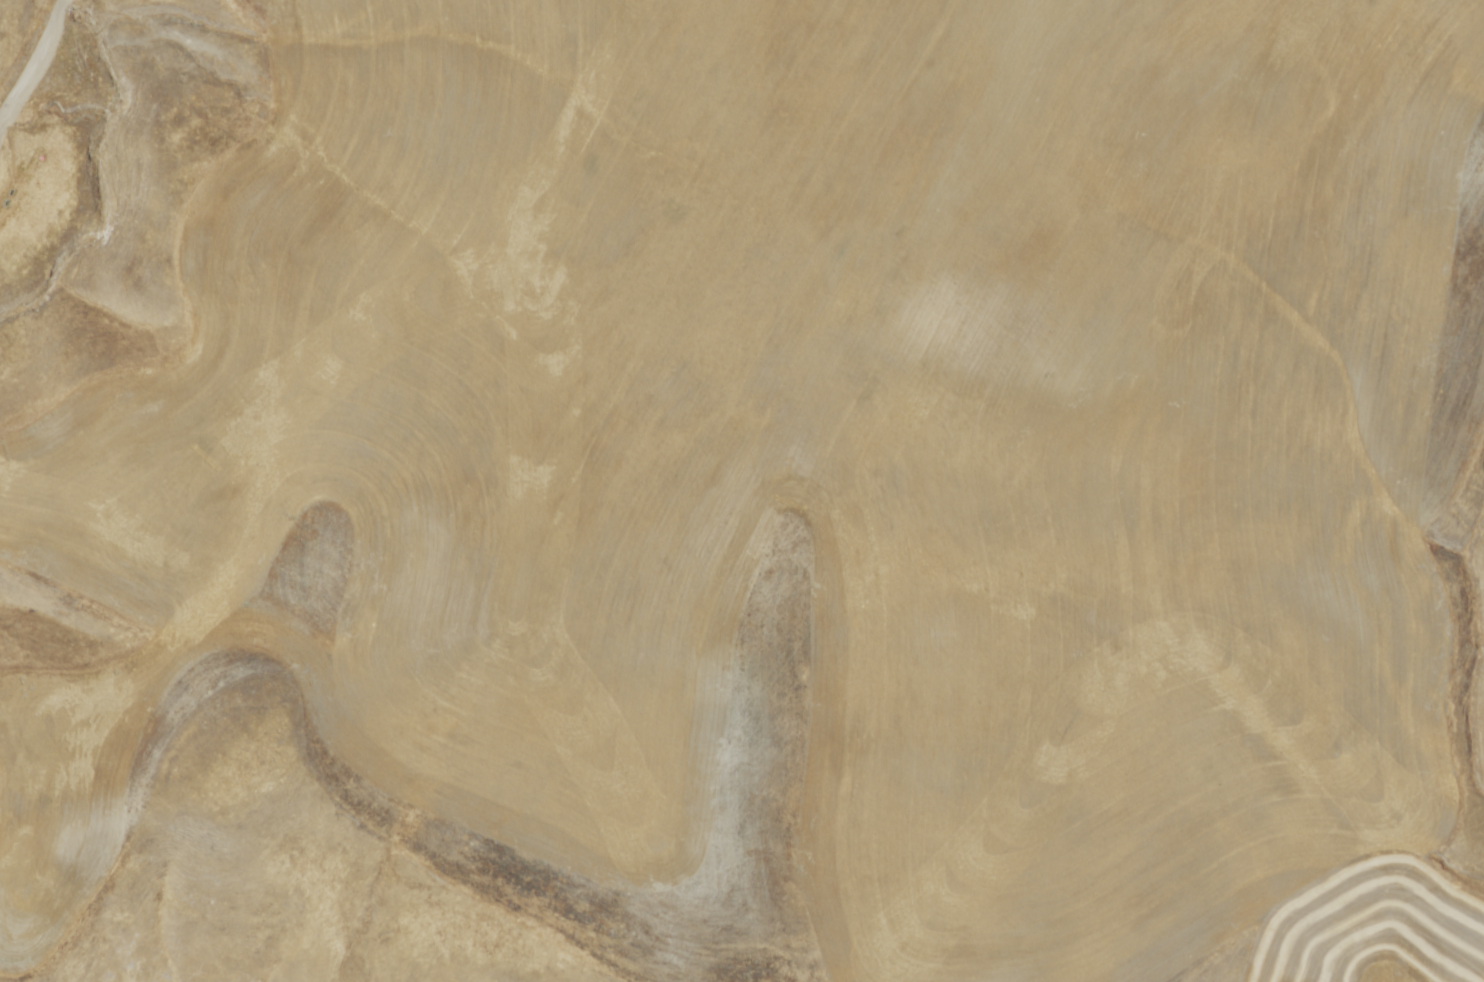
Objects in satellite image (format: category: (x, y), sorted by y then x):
road: (36, 54)

